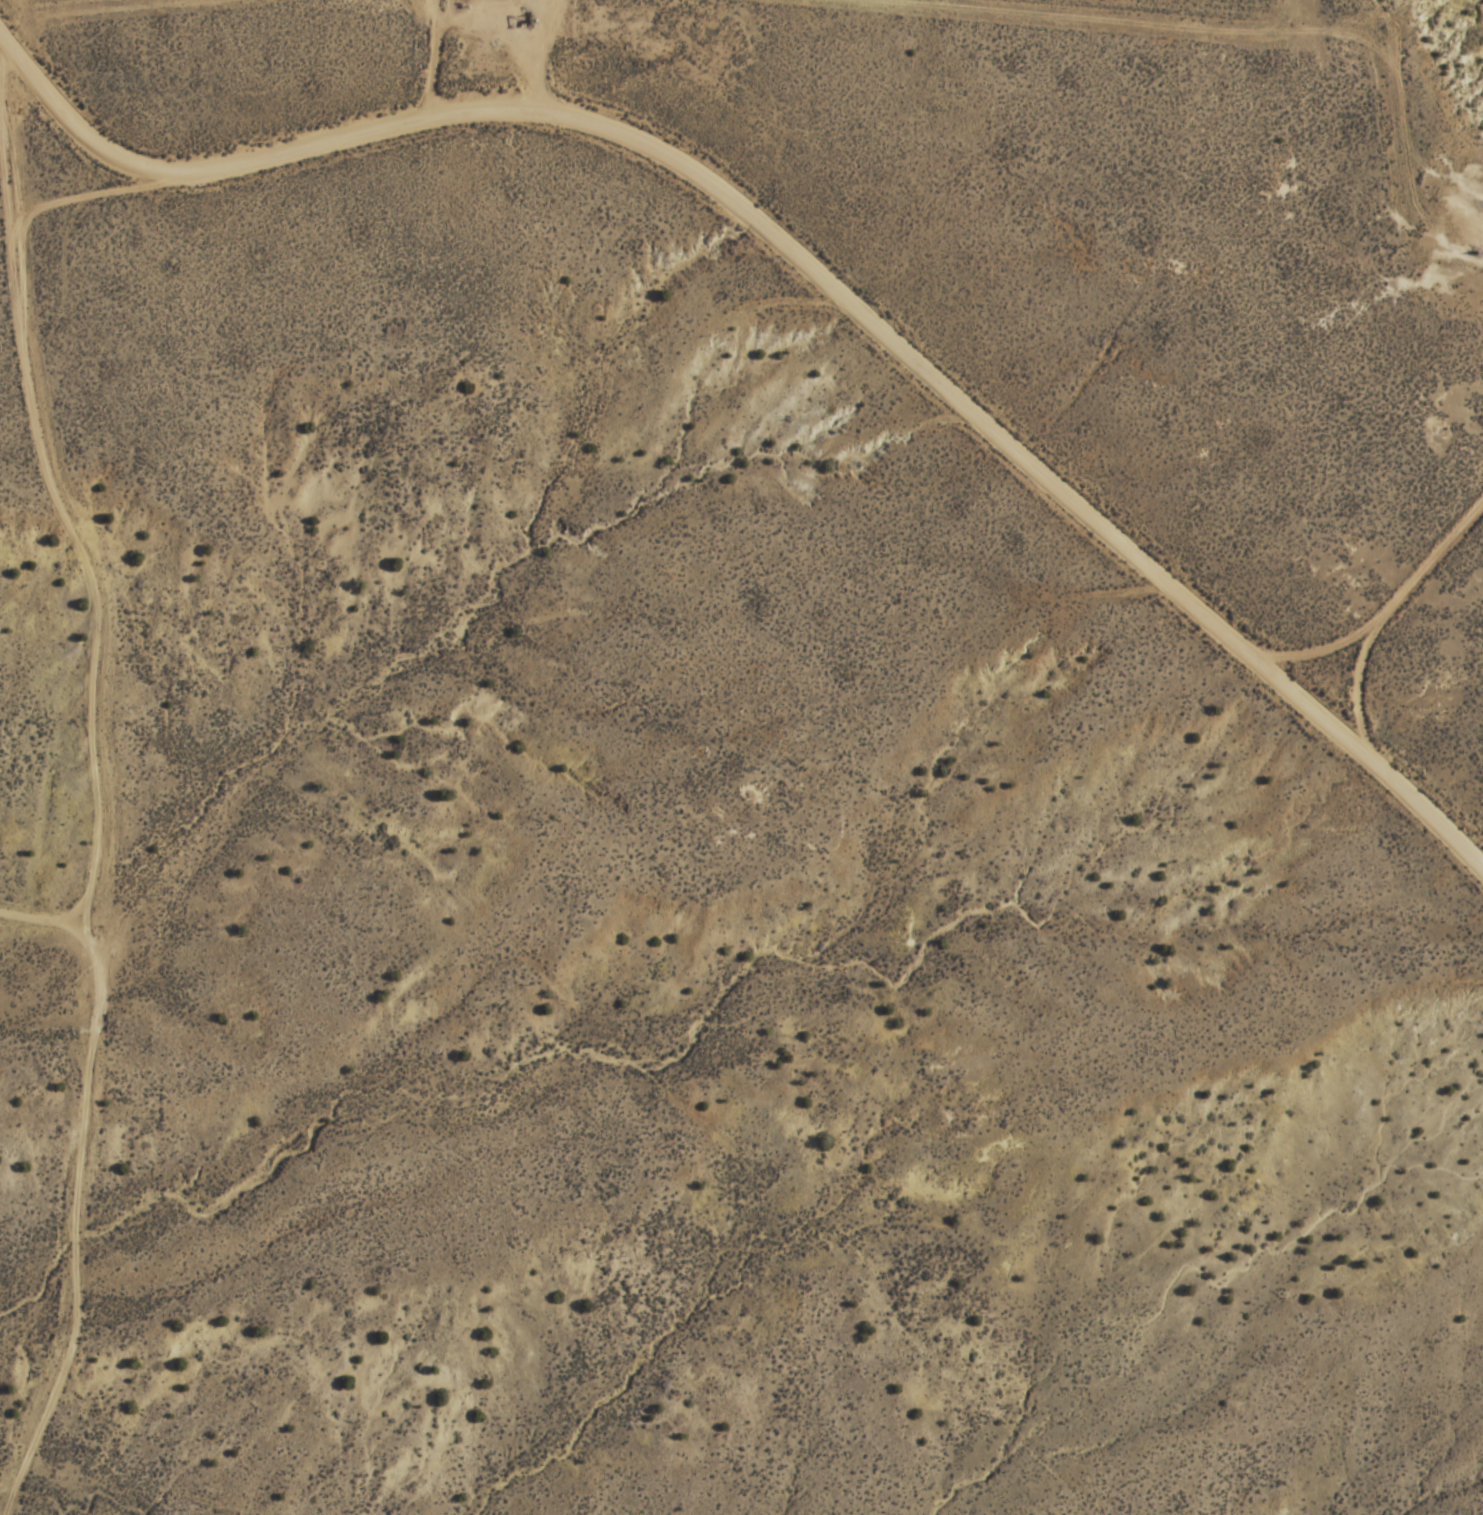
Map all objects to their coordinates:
road: (808, 265)
road: (125, 778)

